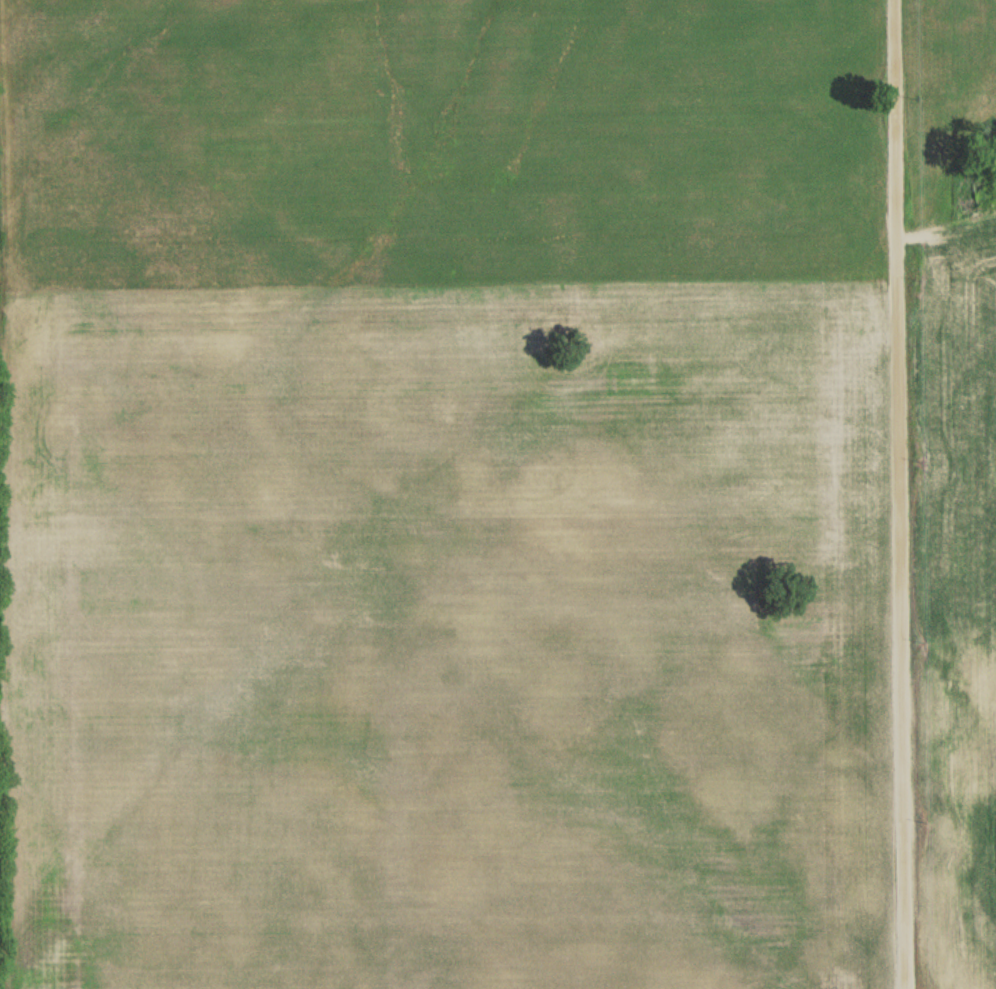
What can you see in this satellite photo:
road: (903, 494)

